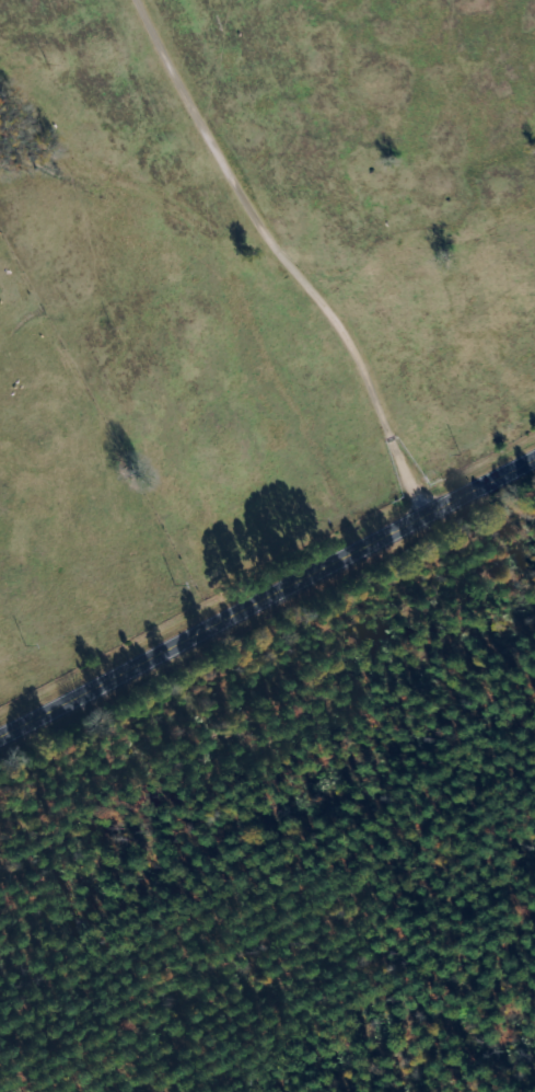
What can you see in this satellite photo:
road: (289, 252)
road: (267, 599)

